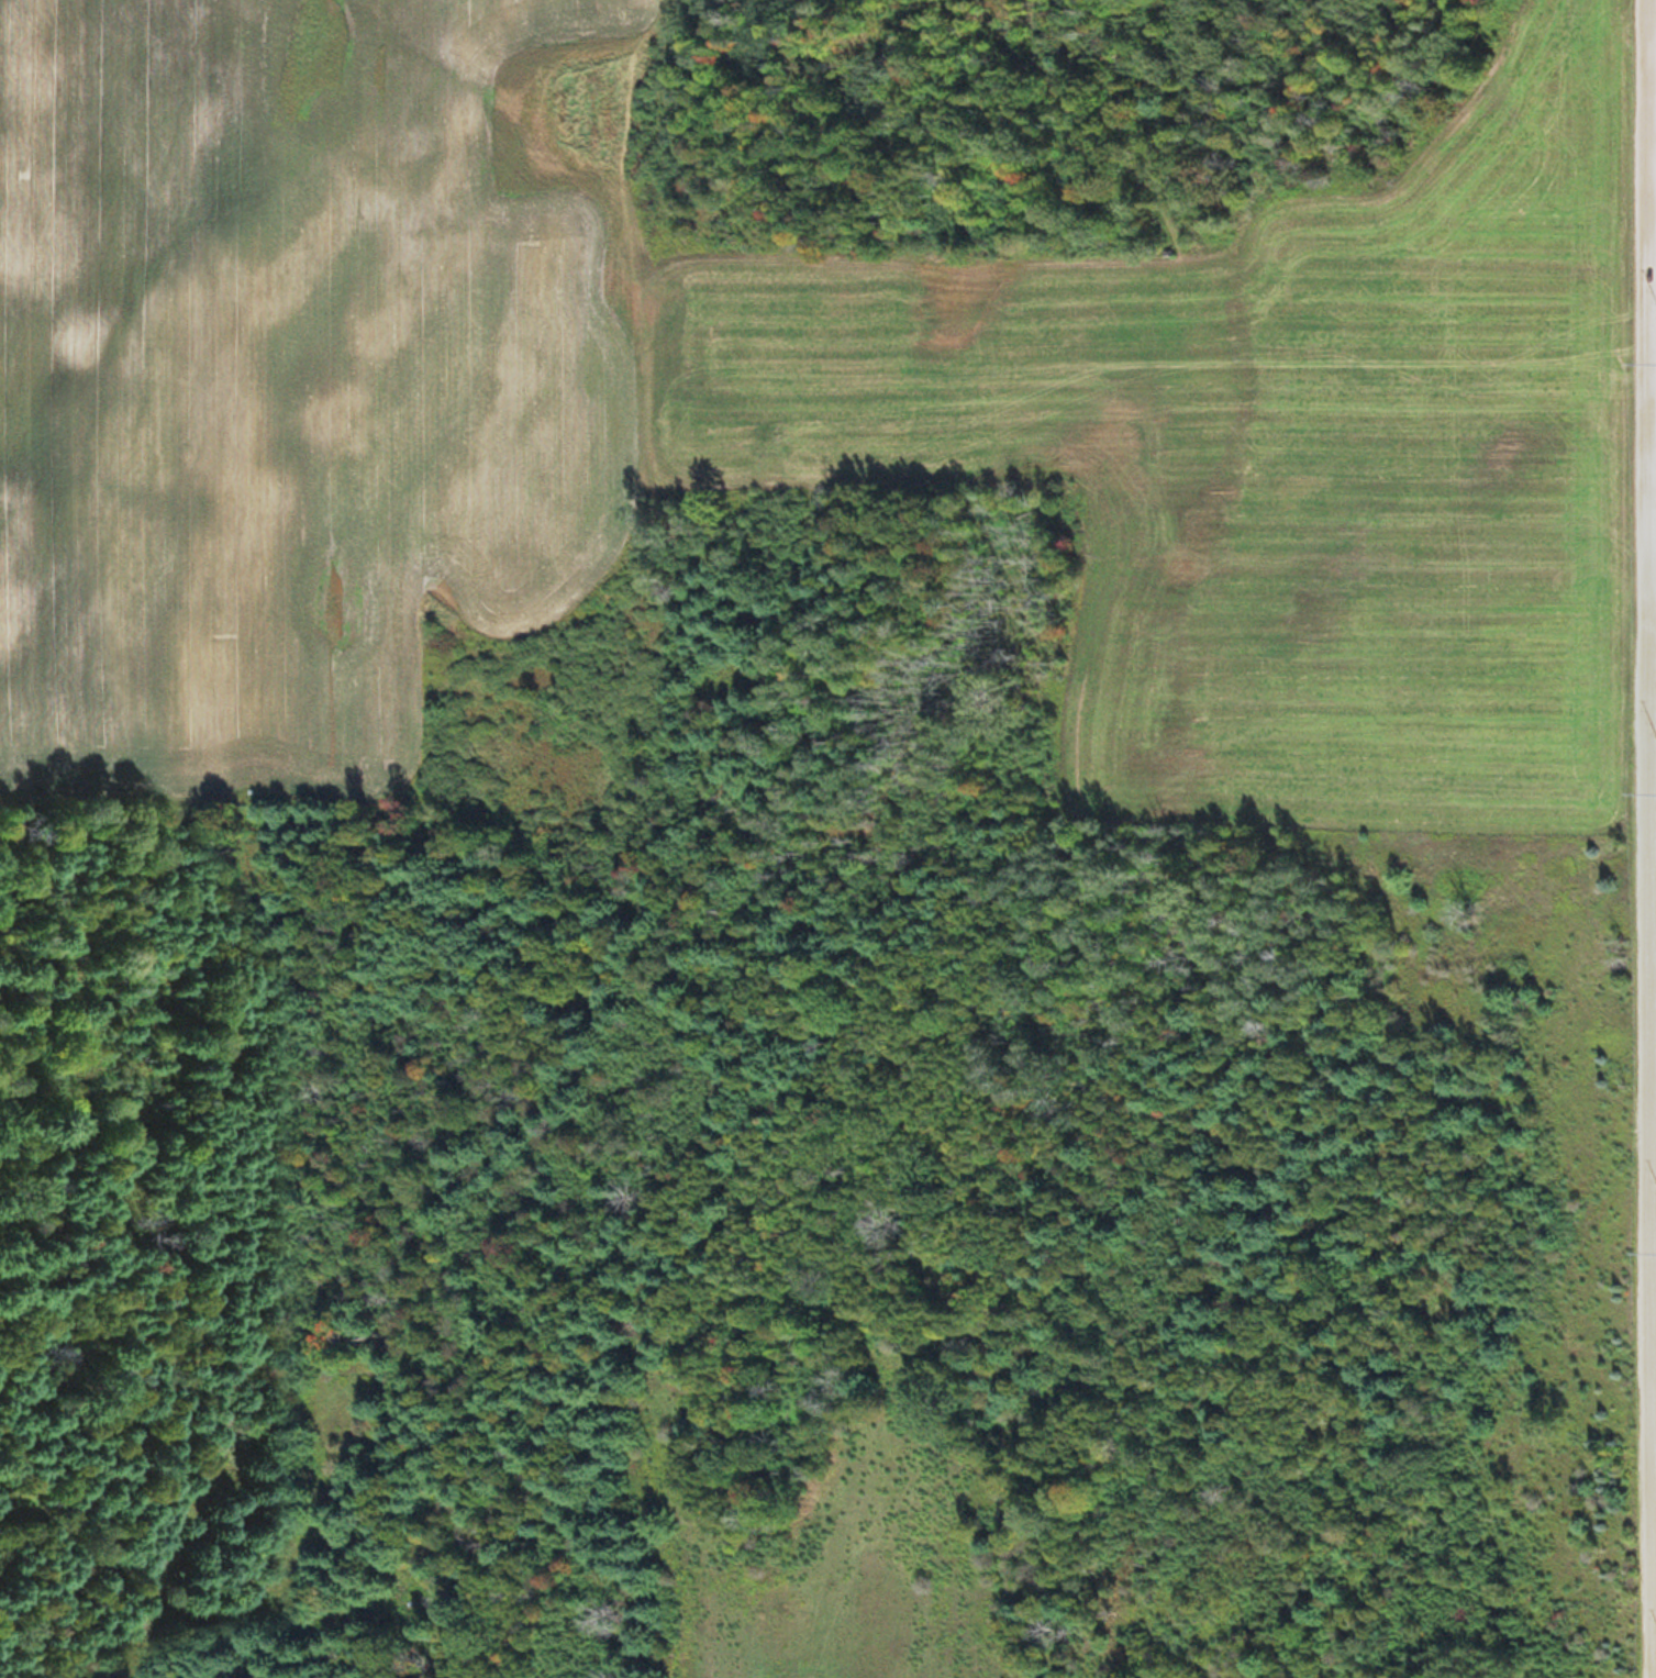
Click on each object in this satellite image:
road: (1643, 838)
road: (1649, 1538)

